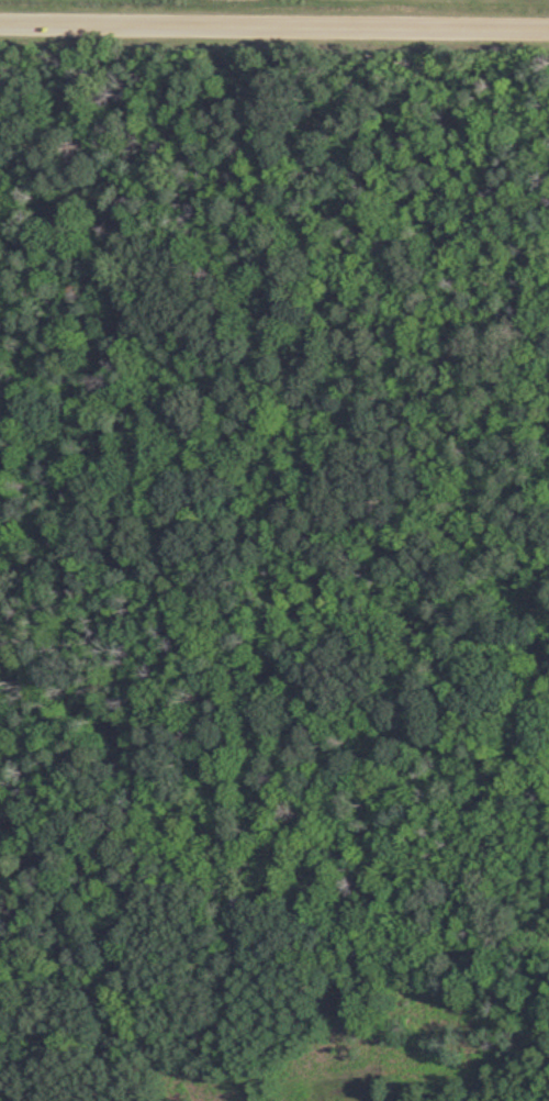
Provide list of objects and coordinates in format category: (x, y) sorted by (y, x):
road: (274, 26)

